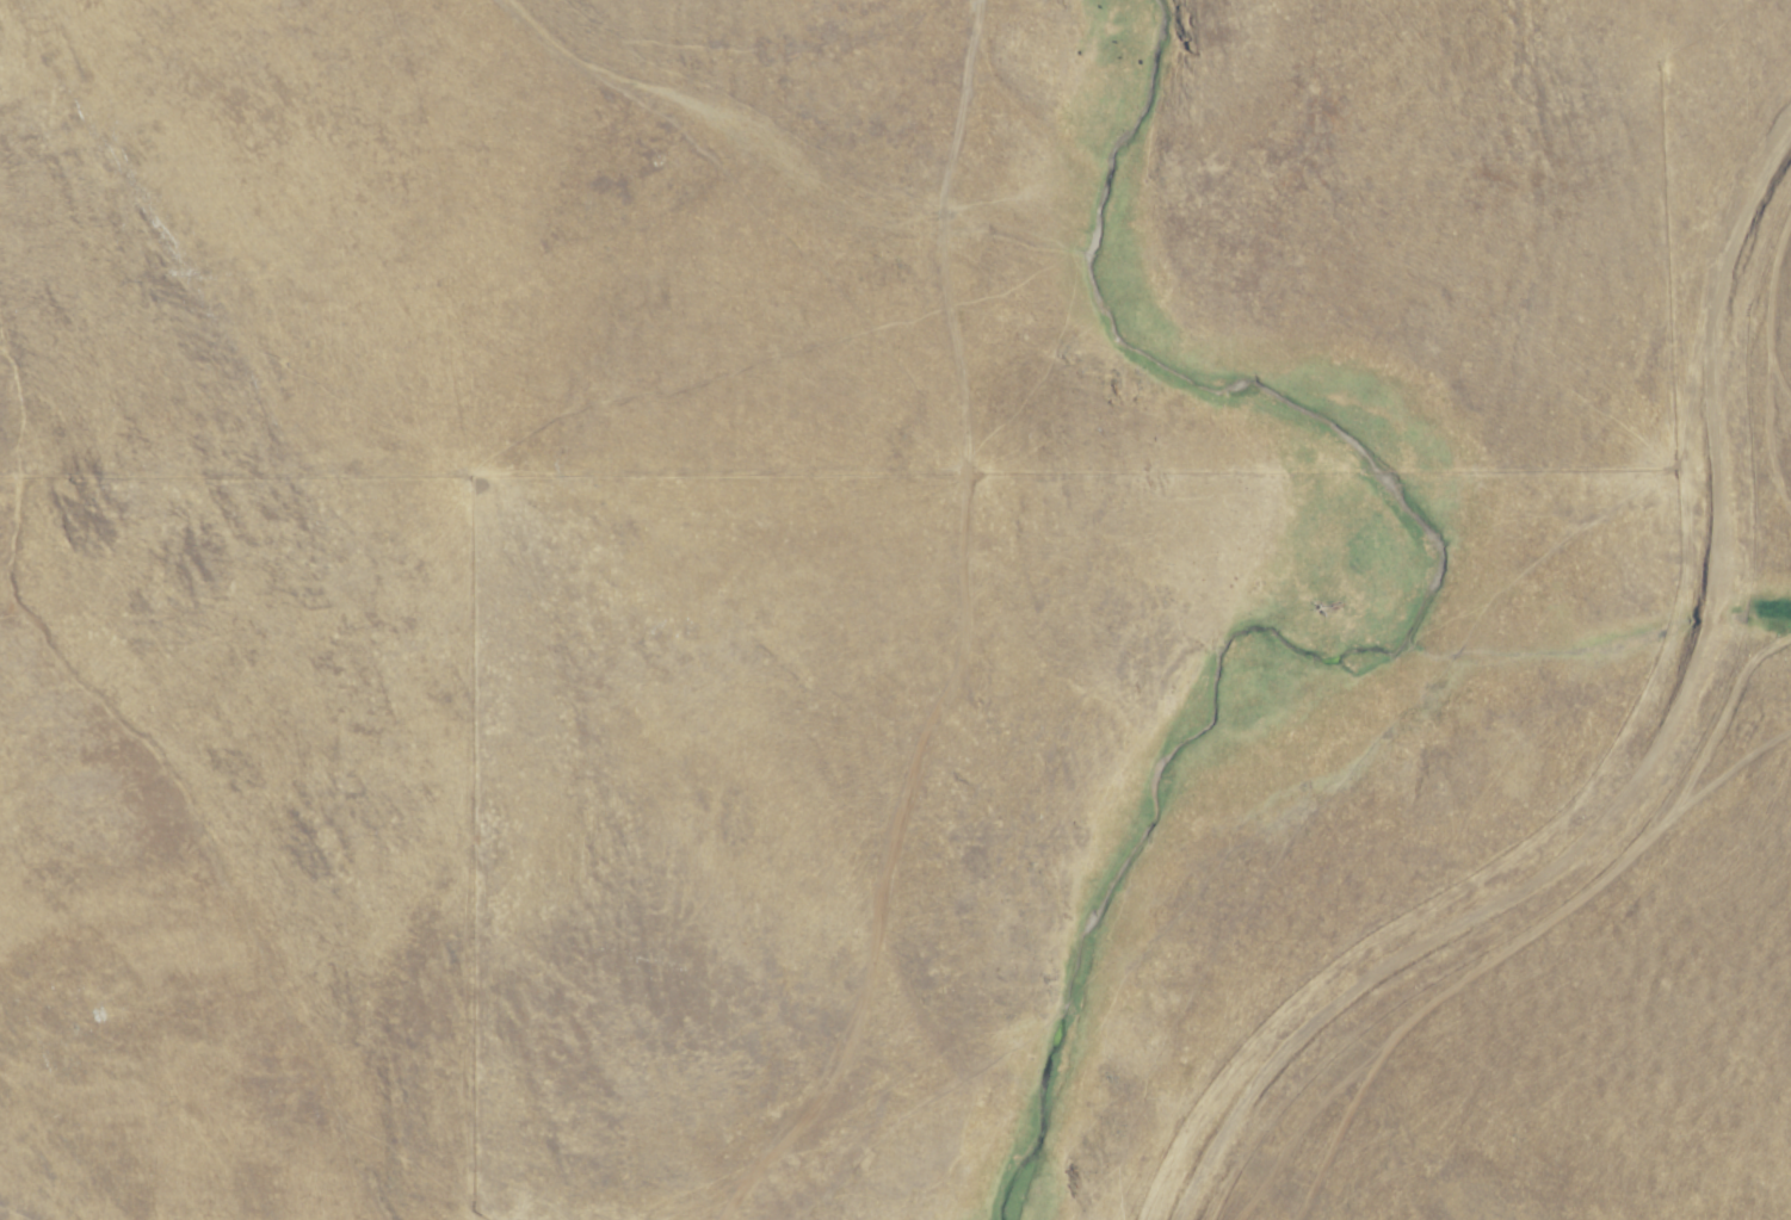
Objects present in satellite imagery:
road: (957, 645)

